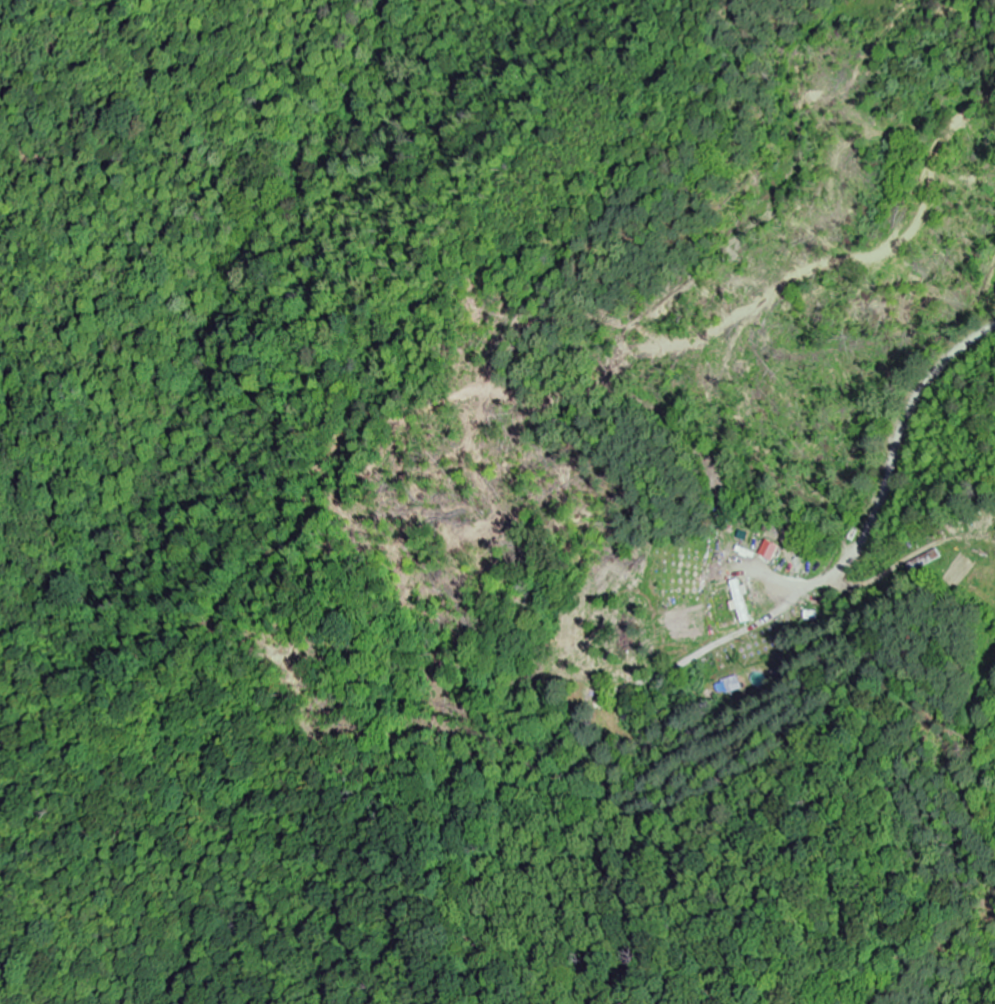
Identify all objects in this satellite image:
building: (777, 551)
building: (748, 601)

